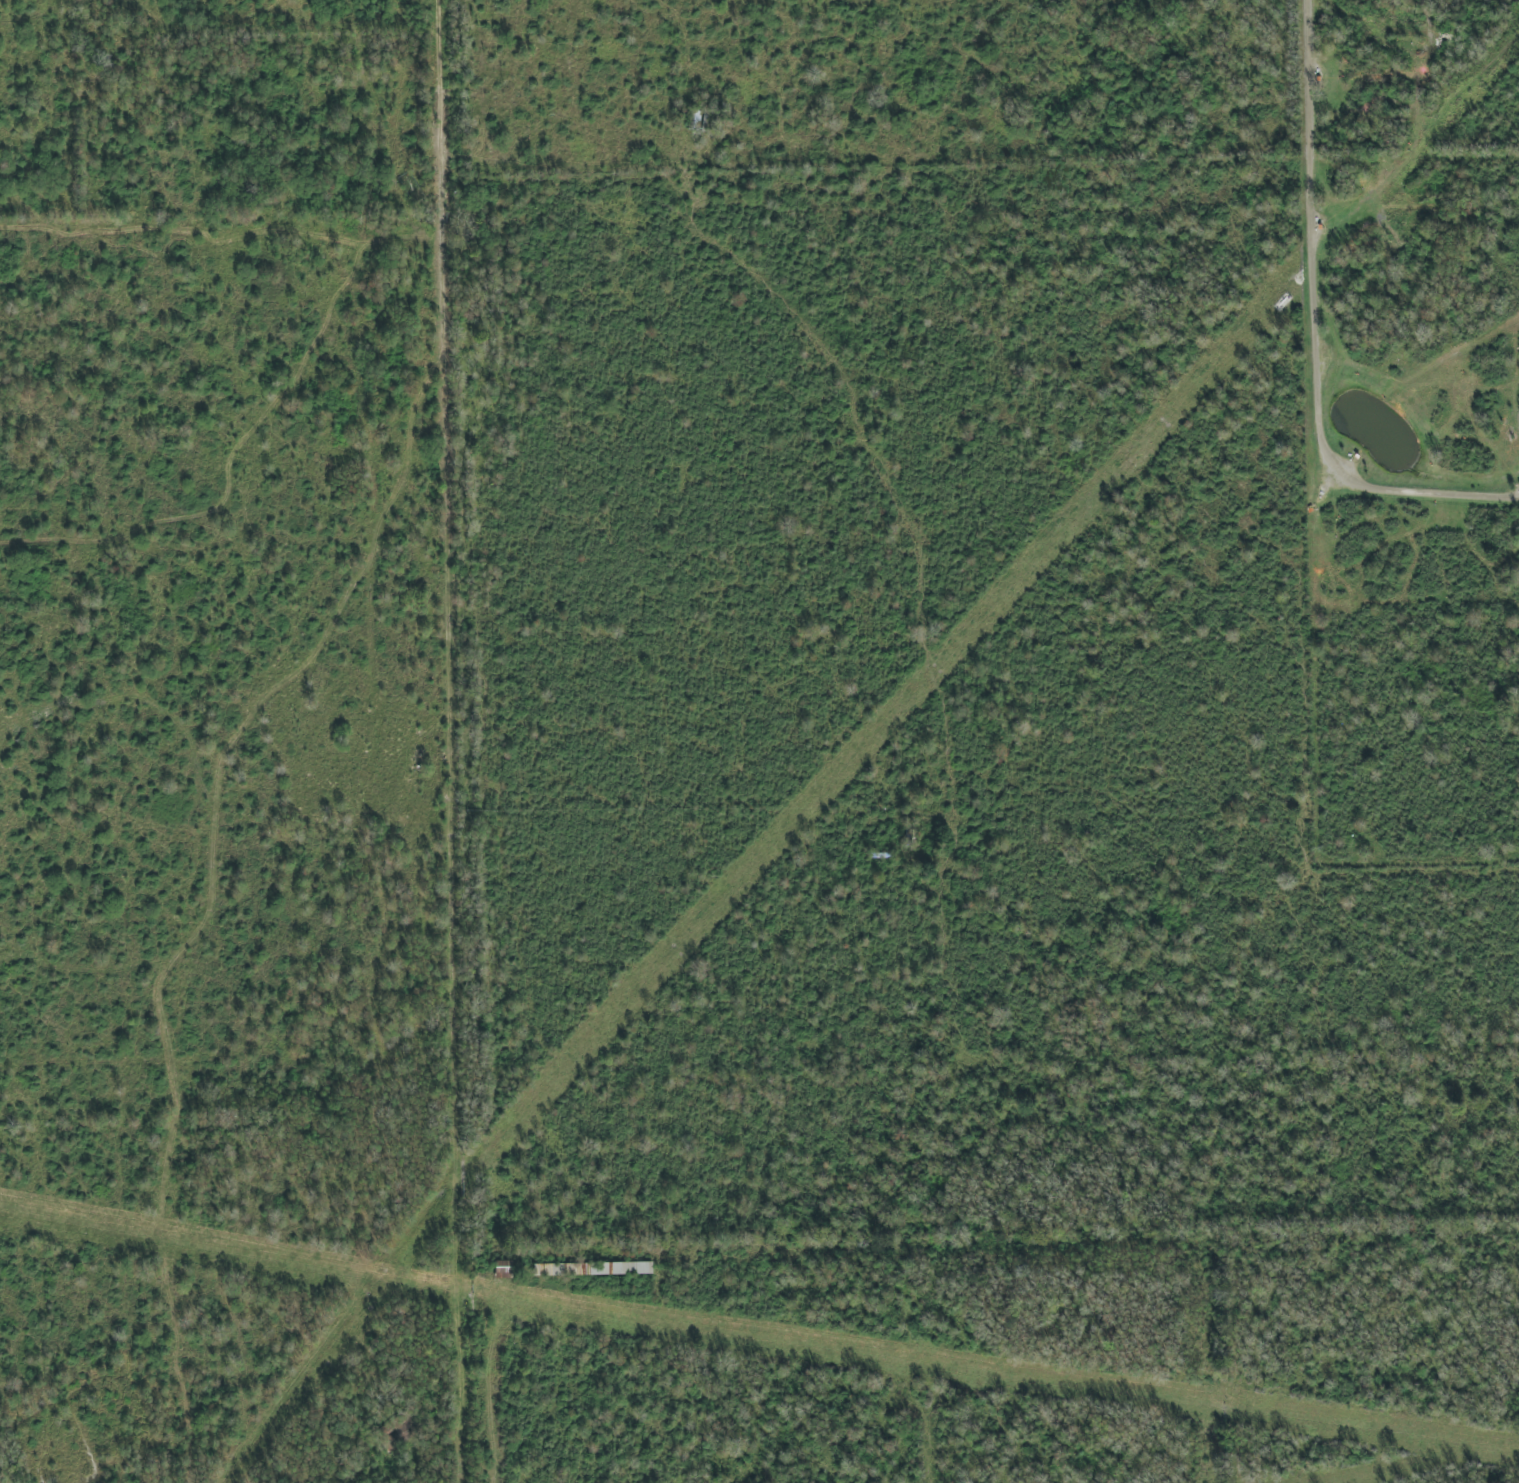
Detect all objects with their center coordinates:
road: (1312, 335)
road: (458, 741)

